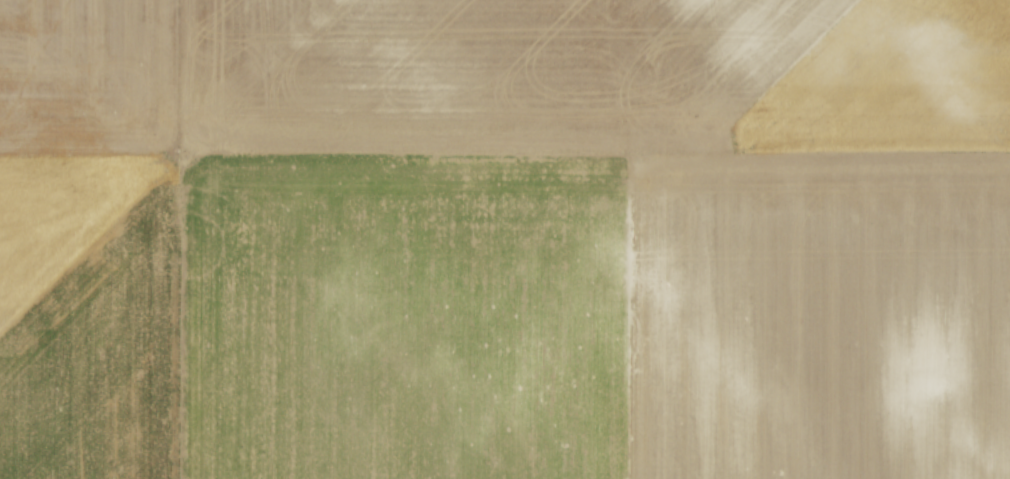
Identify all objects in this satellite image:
crop: (505, 239)

